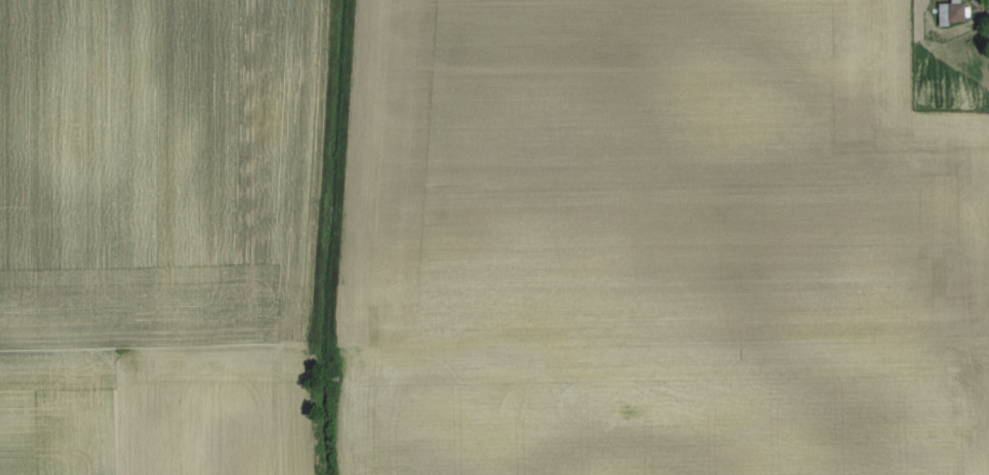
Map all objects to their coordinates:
building: (955, 12)

